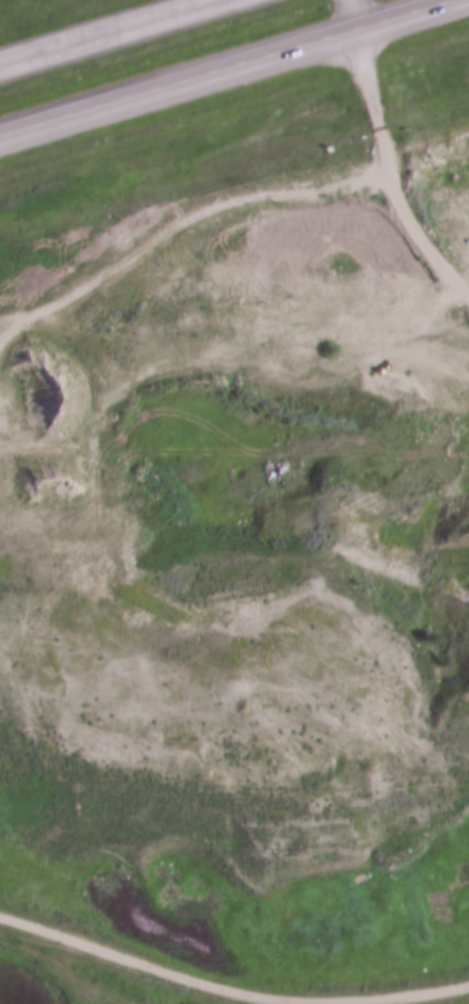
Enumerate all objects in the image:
road: (354, 13)
road: (113, 34)
road: (234, 70)
road: (395, 155)
quarry: (458, 276)
road: (230, 986)

